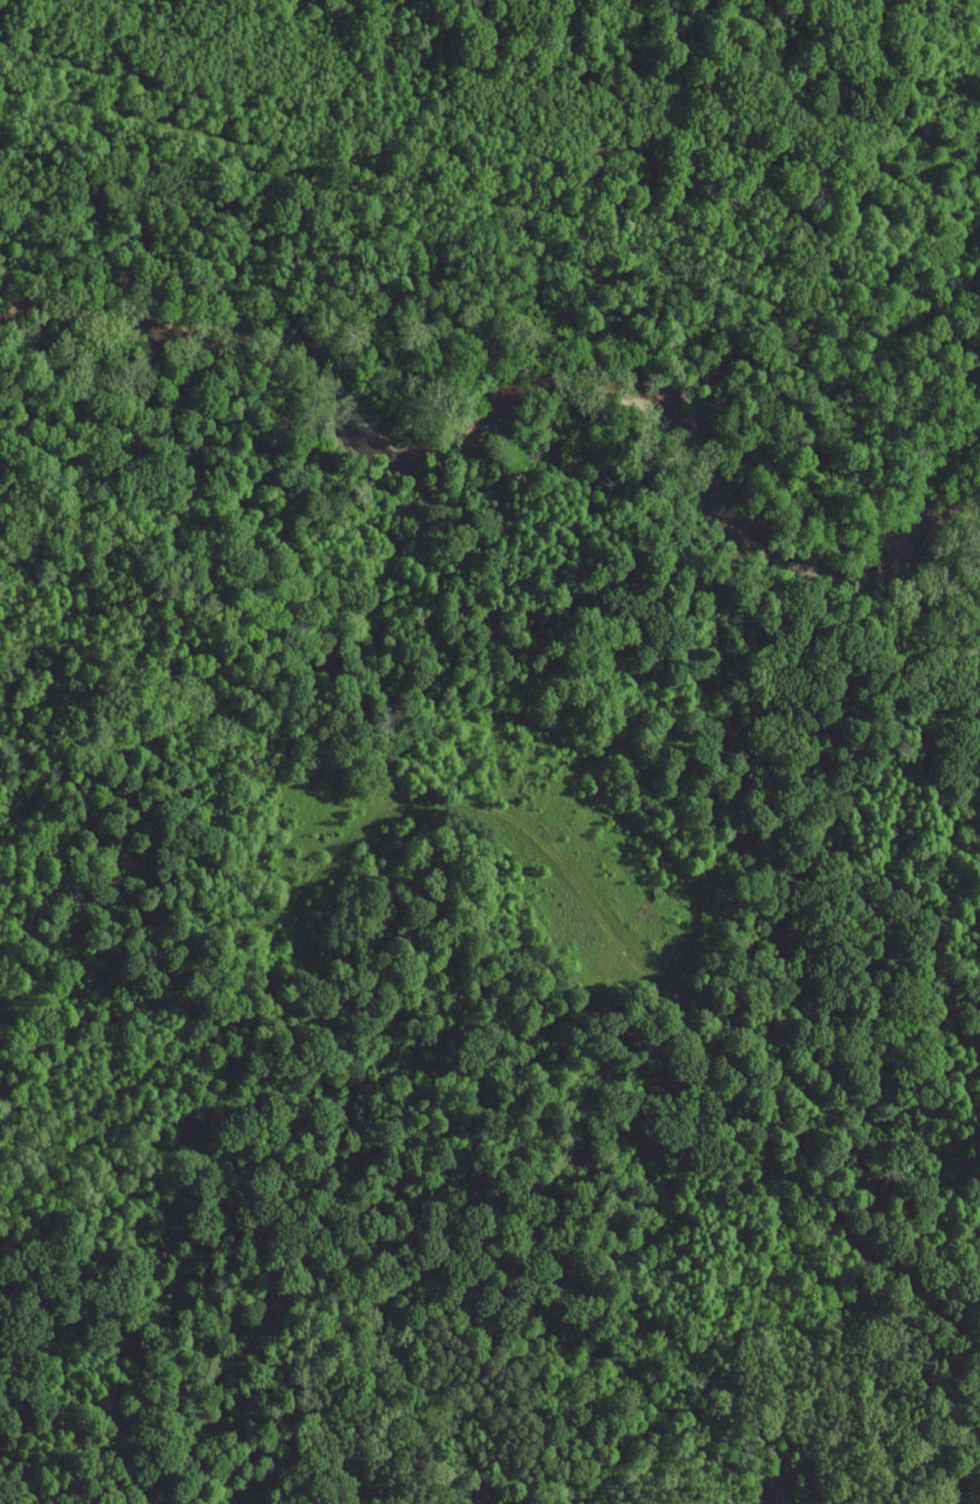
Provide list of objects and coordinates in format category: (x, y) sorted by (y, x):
park: (809, 1320)

